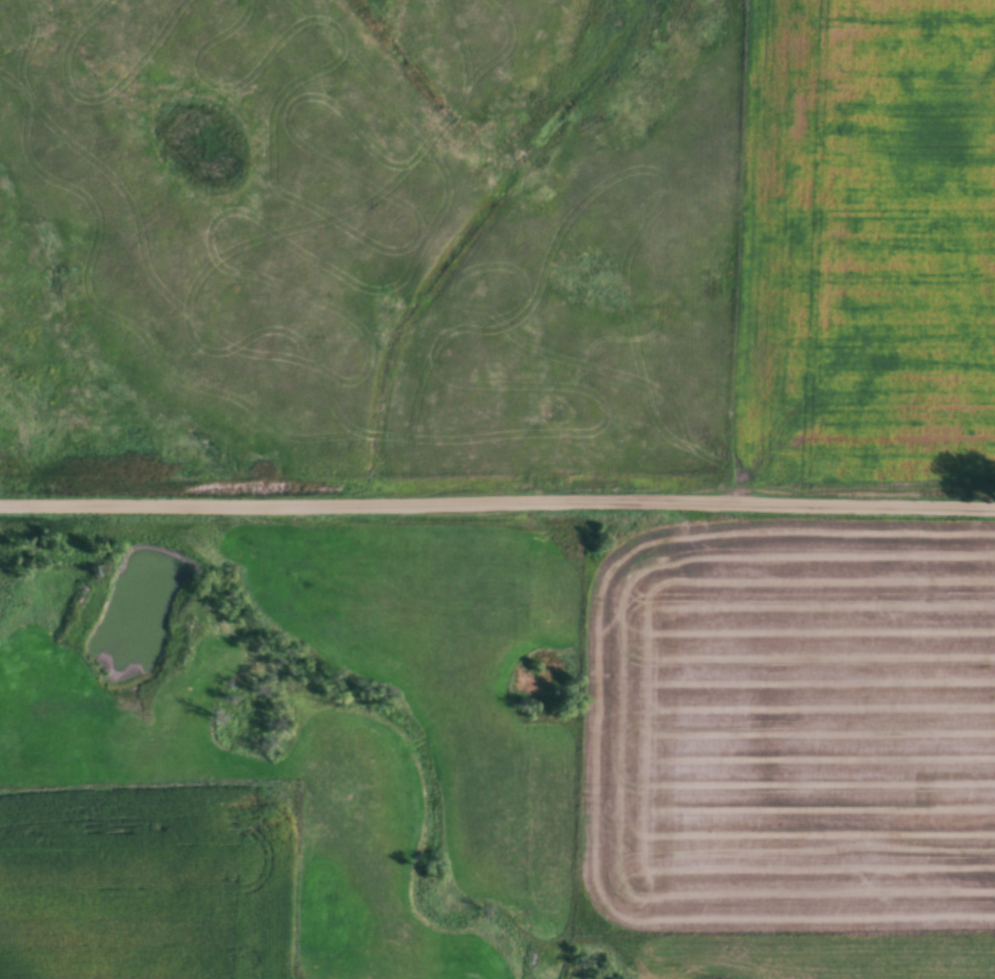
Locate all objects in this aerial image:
road: (497, 502)
river: (137, 615)

